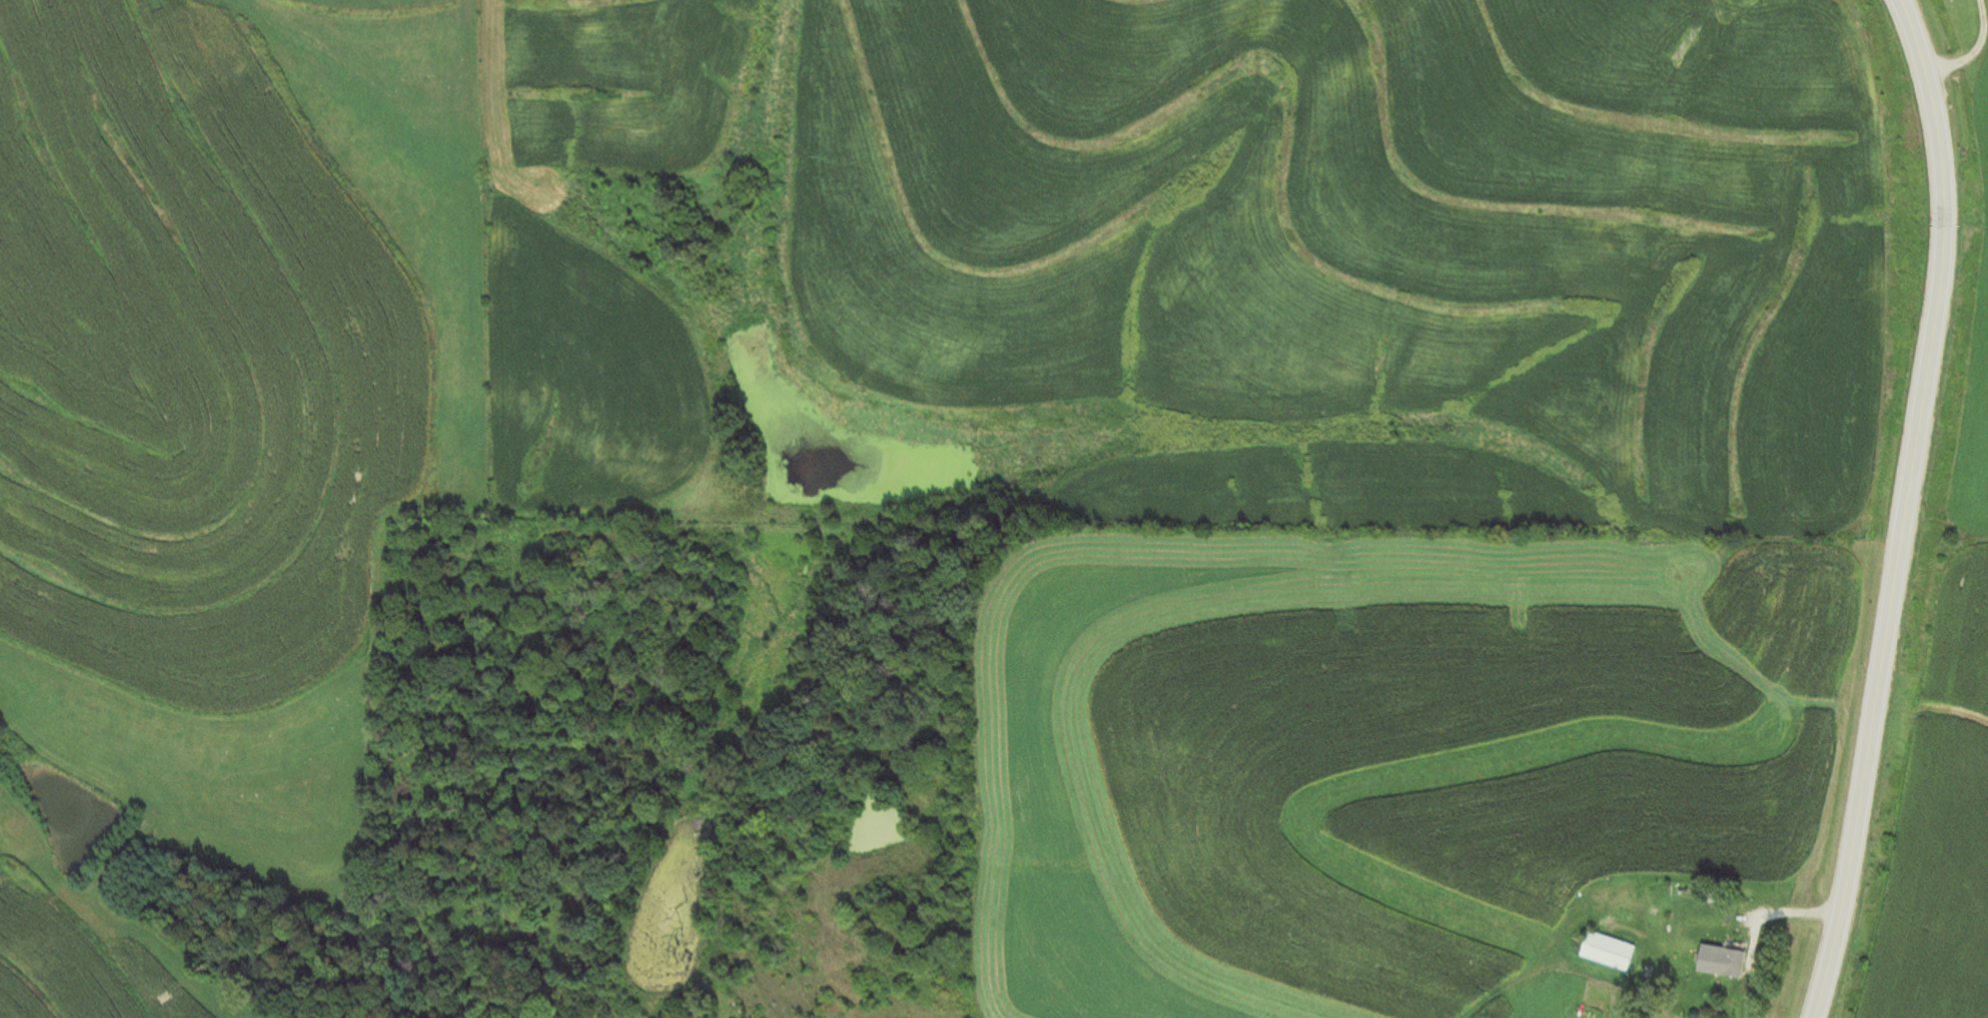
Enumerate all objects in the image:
road: (1904, 509)
building: (1605, 953)
building: (1718, 964)

